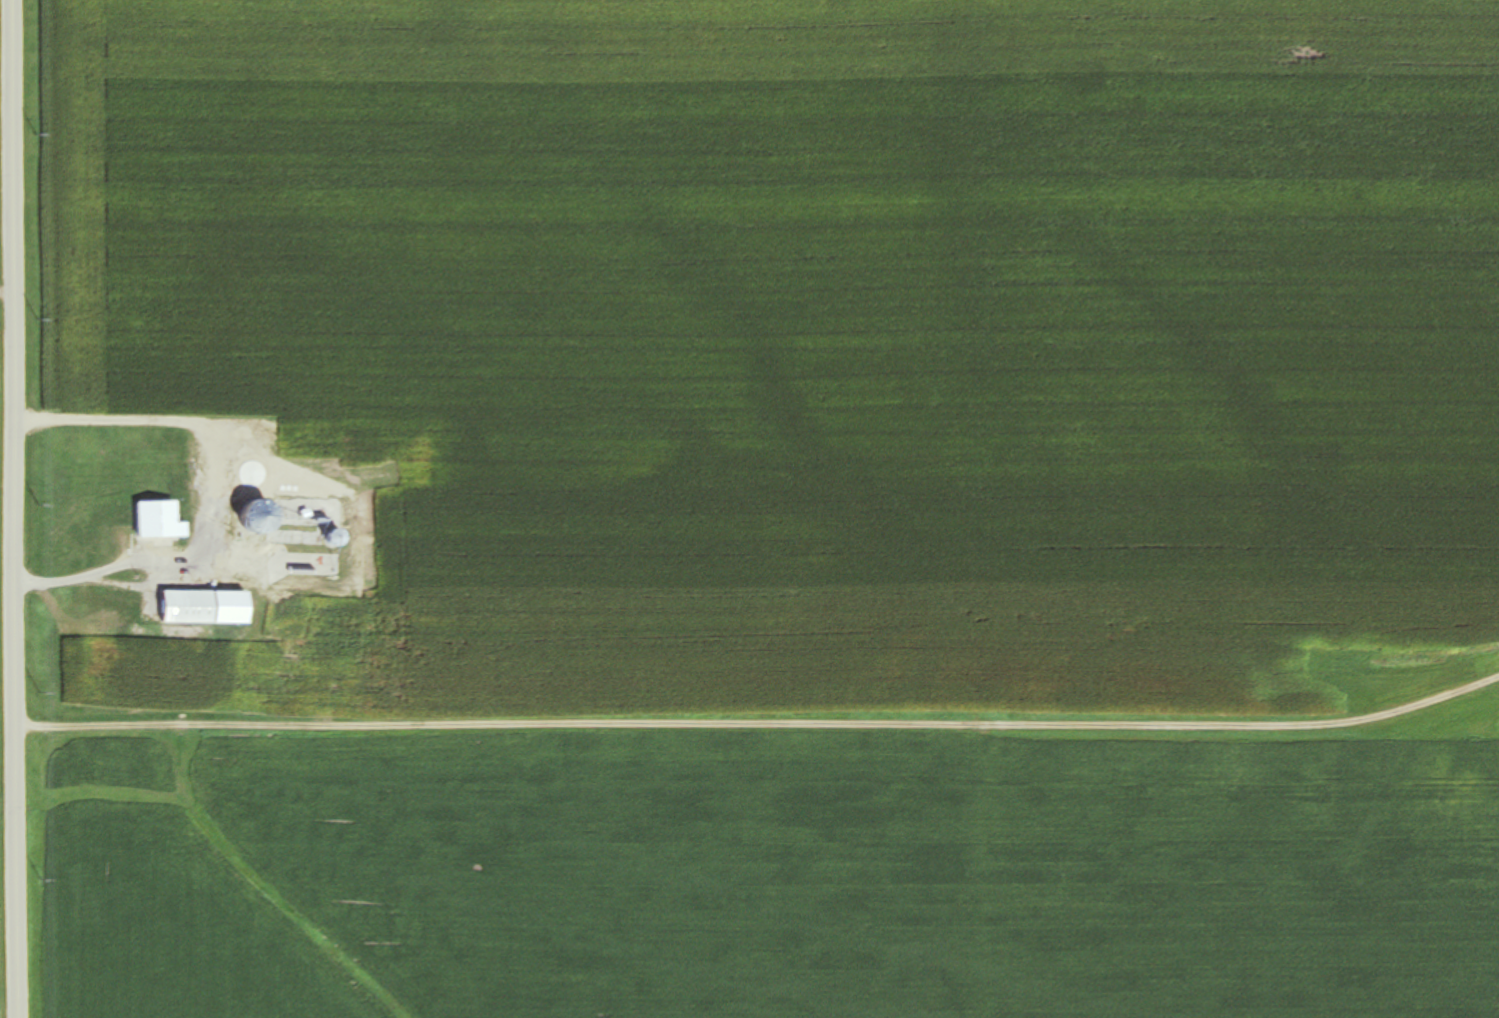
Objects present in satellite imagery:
building: (226, 459)
road: (6, 509)
building: (160, 520)
building: (295, 605)
building: (204, 606)
building: (101, 648)
building: (260, 654)

